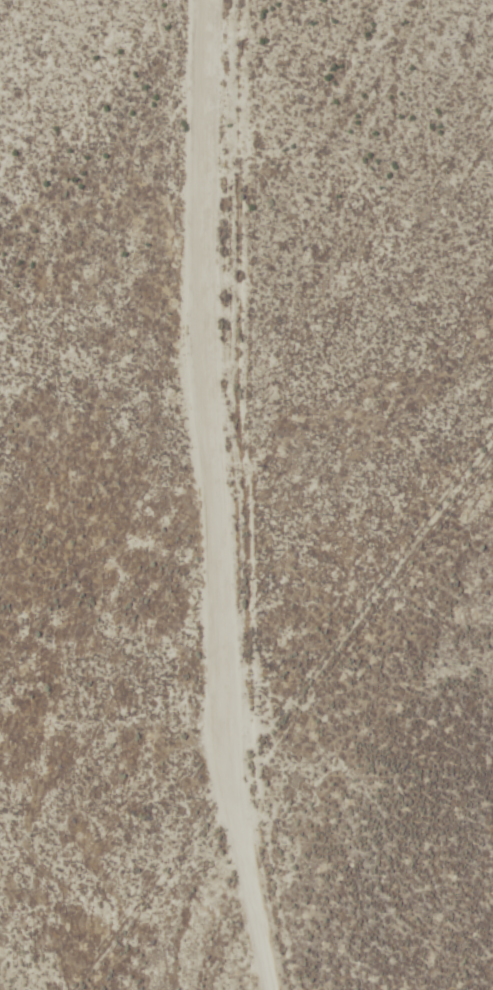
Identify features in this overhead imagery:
crop: (246, 495)
road: (279, 496)

